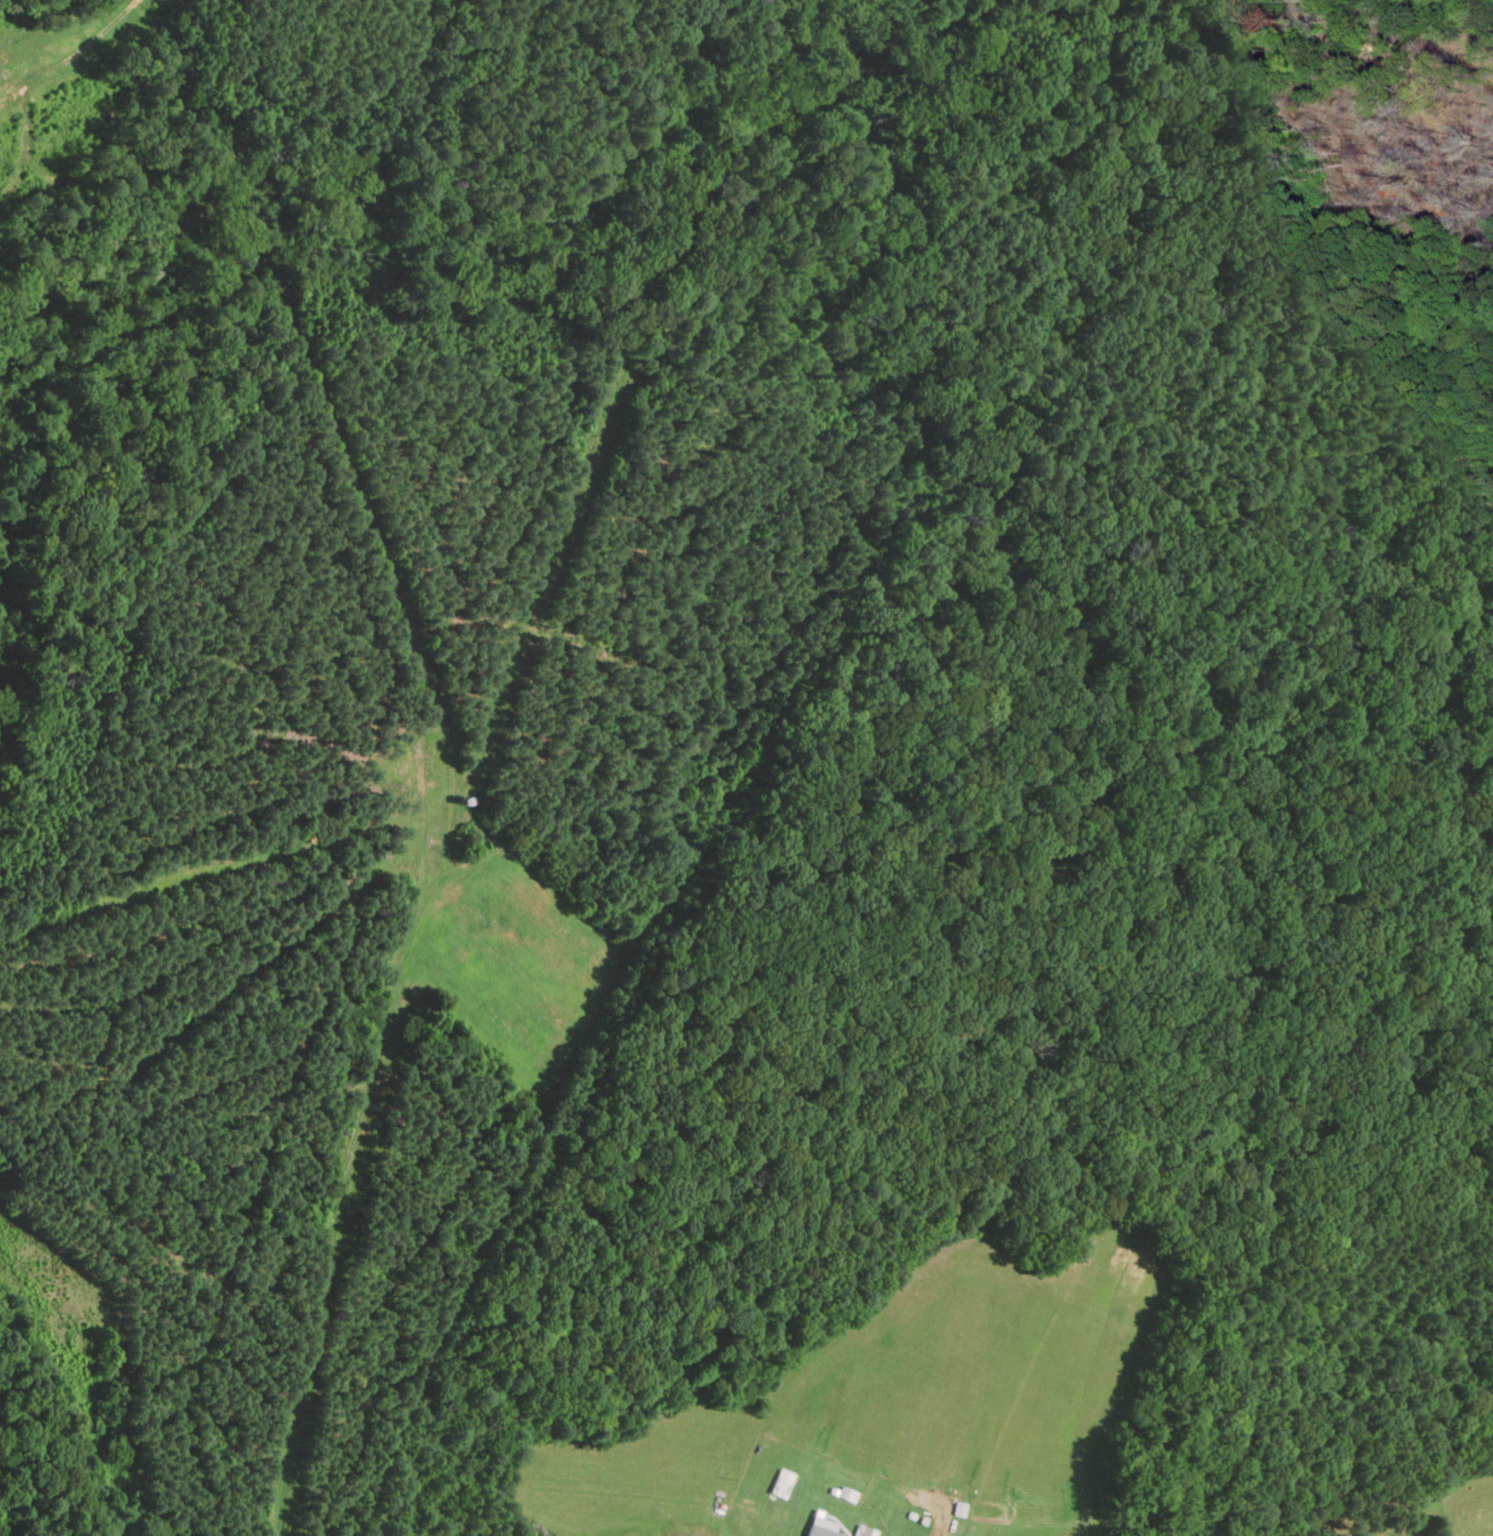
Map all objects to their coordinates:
building: (782, 1488)
building: (823, 1529)
building: (867, 1532)

